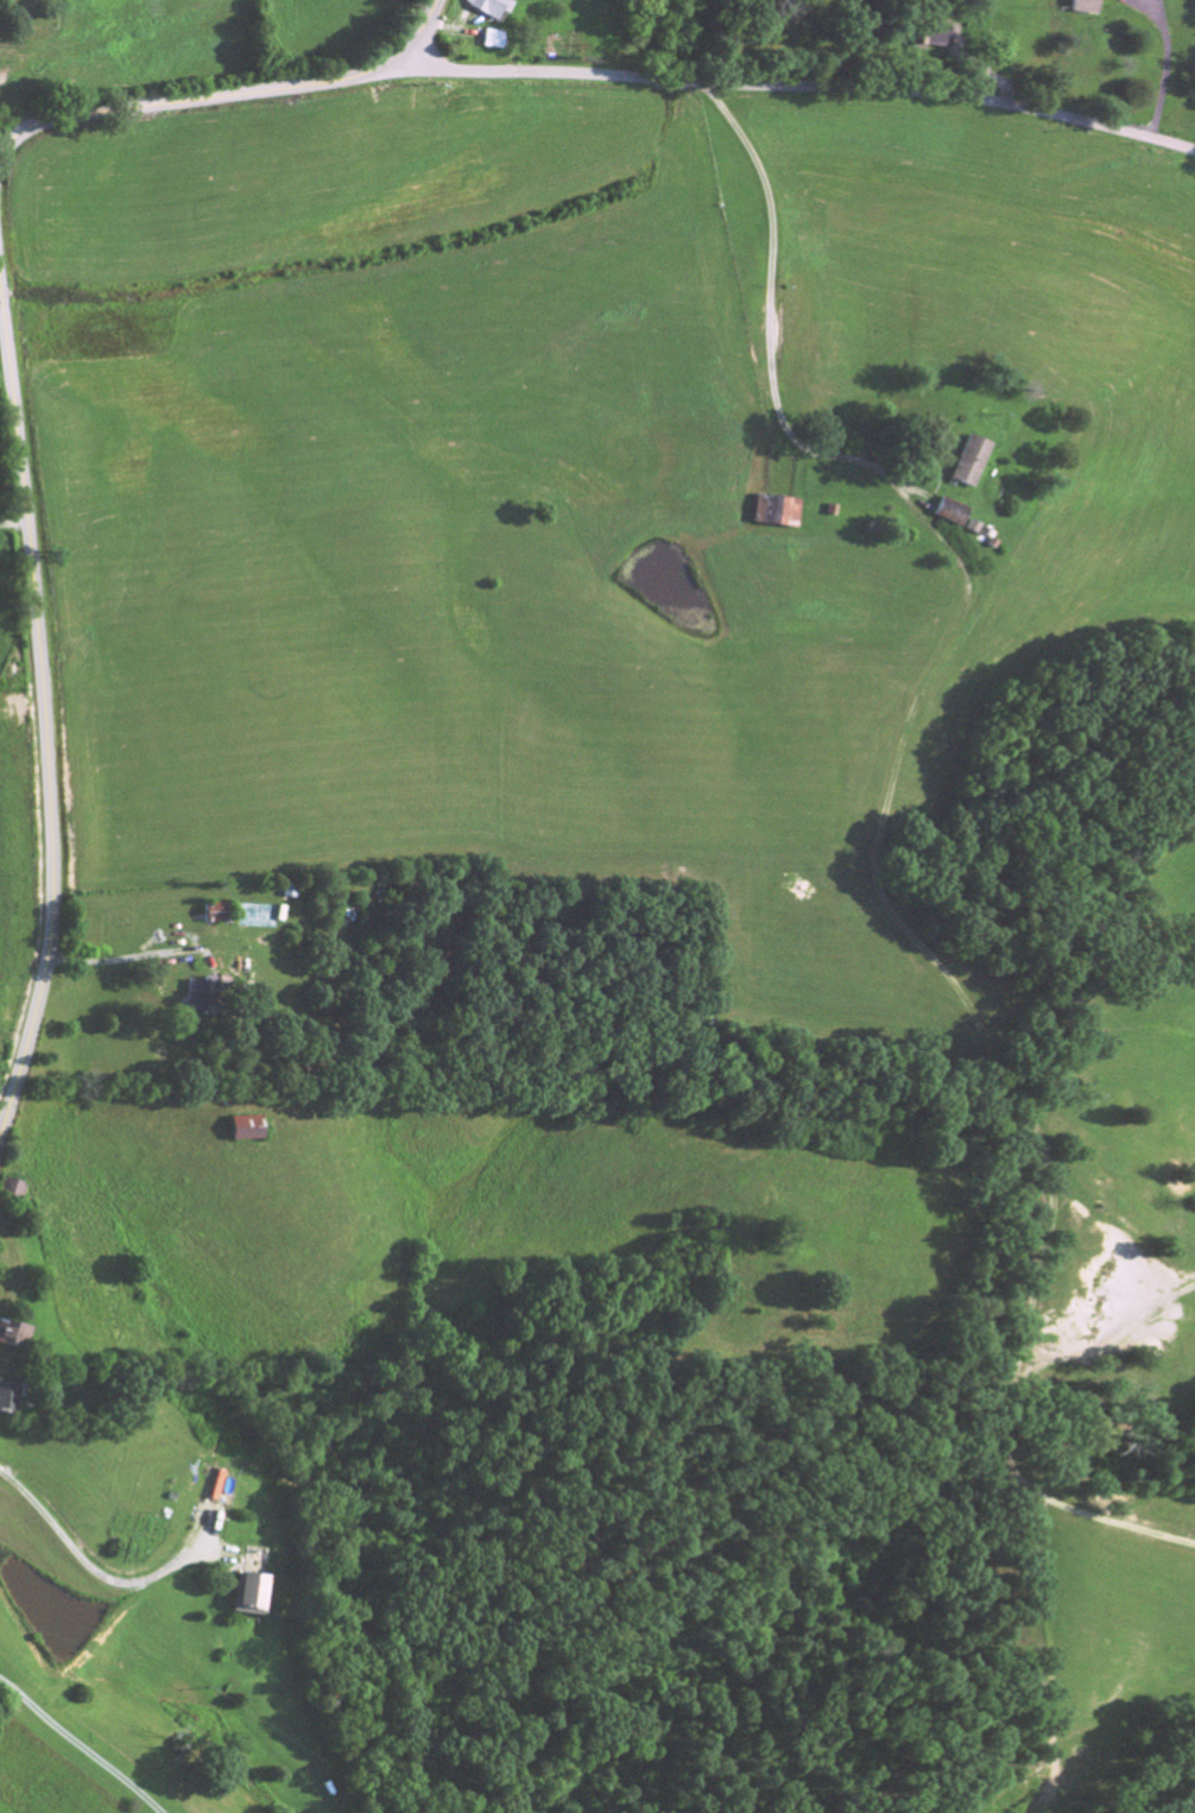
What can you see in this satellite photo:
building: (489, 8)
building: (1086, 8)
building: (493, 42)
road: (1159, 65)
road: (799, 84)
road: (227, 99)
road: (764, 315)
building: (970, 465)
building: (778, 514)
building: (951, 516)
road: (14, 520)
road: (45, 700)
building: (287, 892)
road: (132, 956)
building: (202, 997)
building: (242, 1130)
building: (11, 1190)
building: (13, 1337)
building: (8, 1400)
road: (83, 1566)
building: (246, 1598)
road: (78, 1748)

